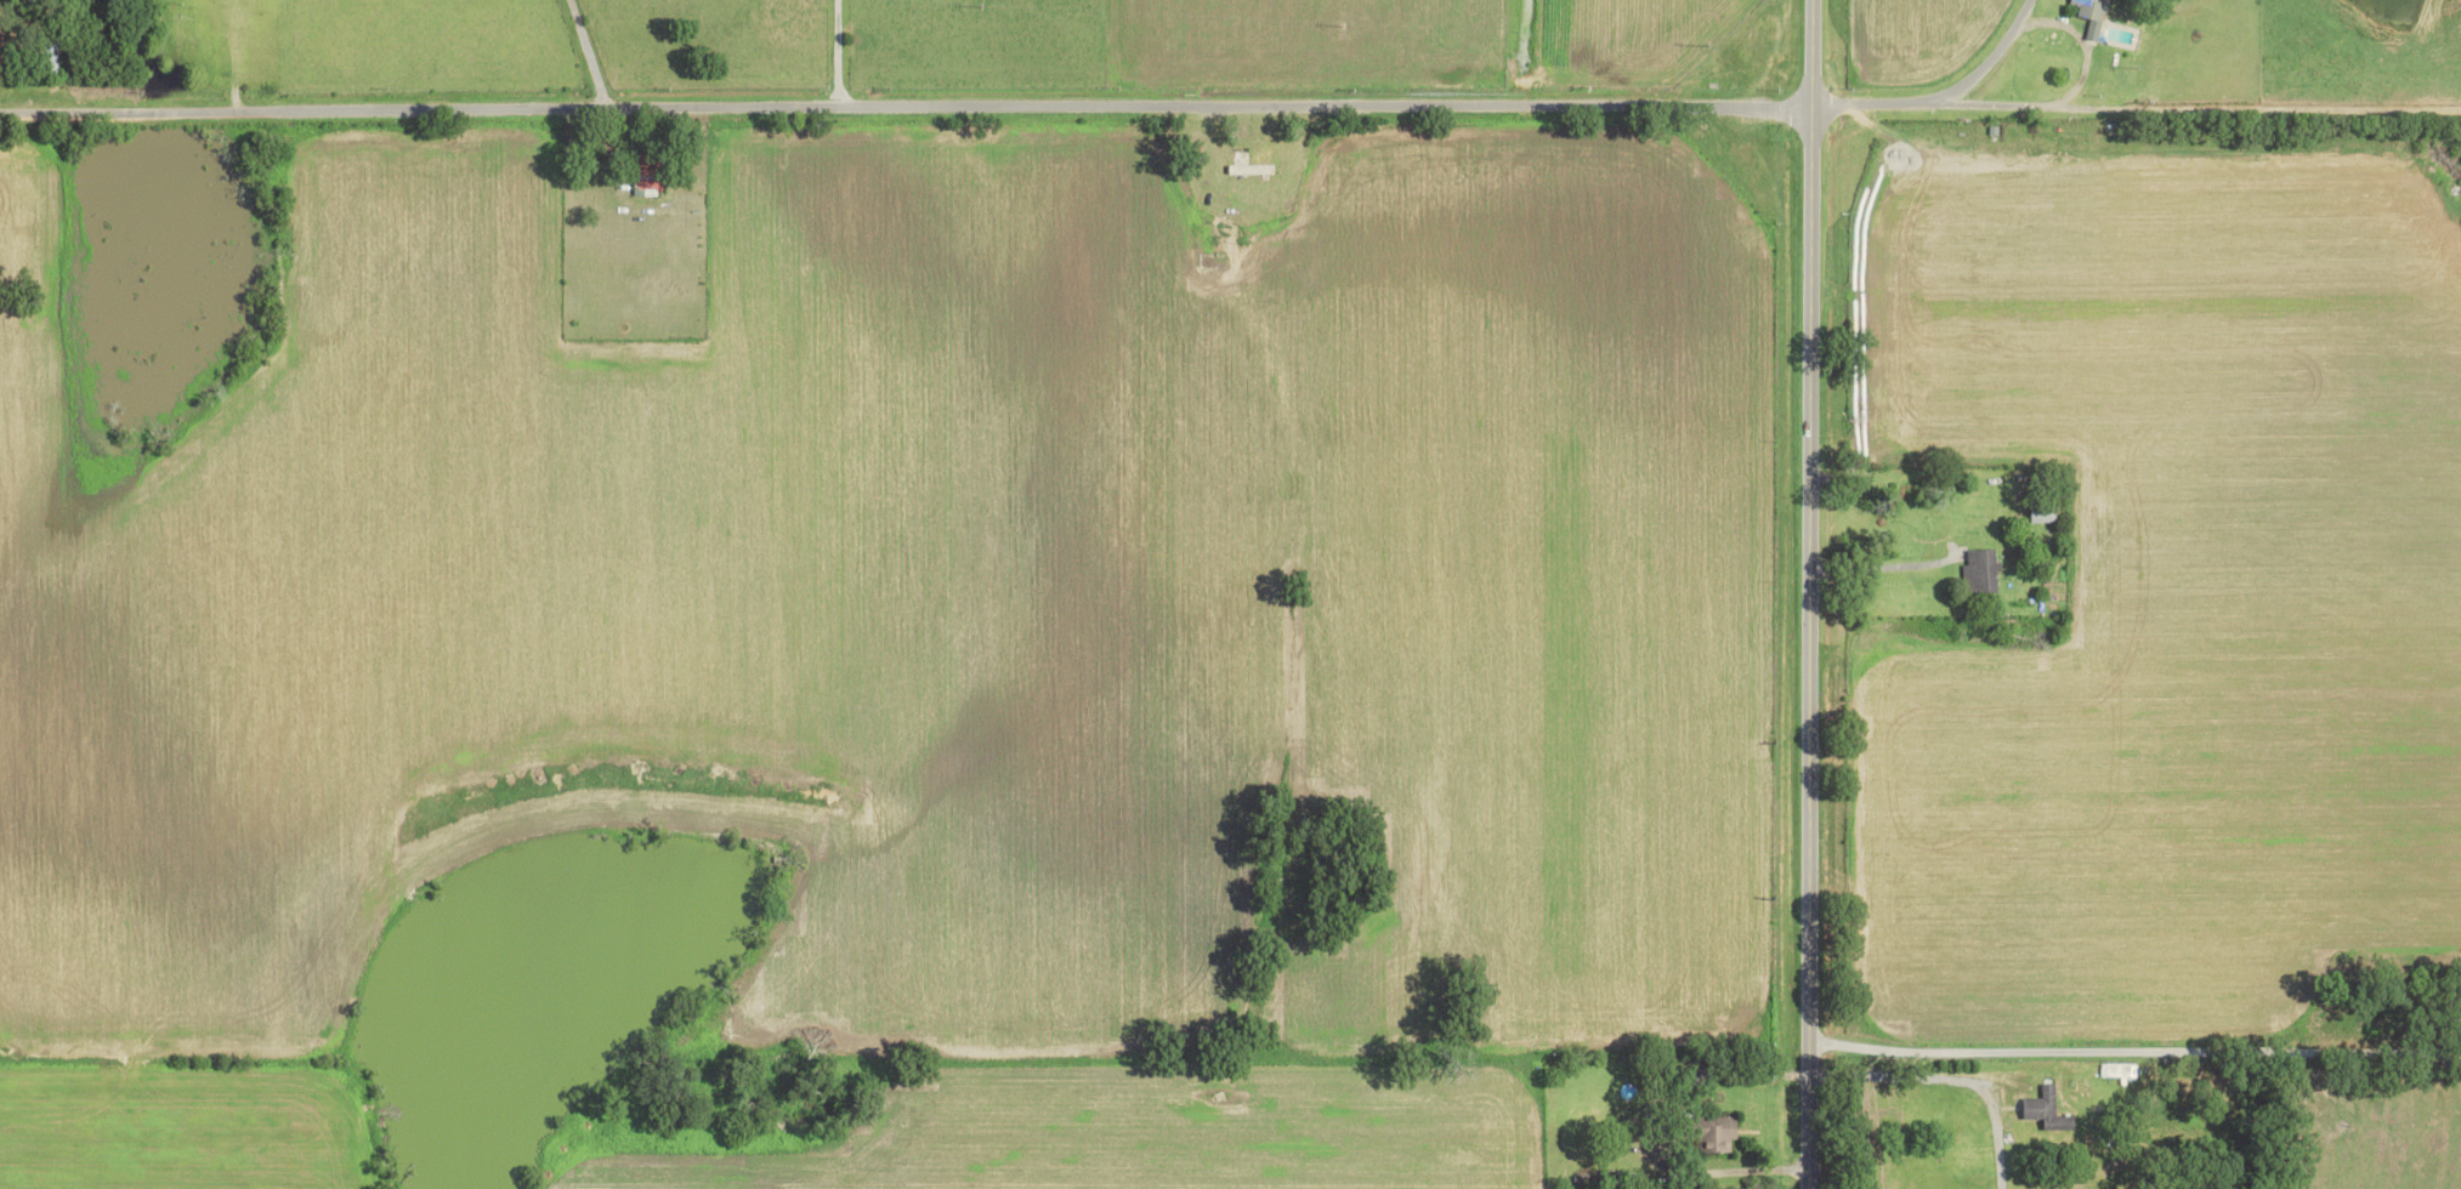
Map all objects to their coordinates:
building: (2093, 15)
road: (589, 55)
road: (833, 55)
road: (1943, 96)
road: (2198, 106)
road: (905, 109)
building: (650, 175)
building: (2046, 513)
road: (1886, 565)
building: (1984, 568)
road: (1808, 593)
road: (2133, 1053)
building: (2120, 1070)
road: (1947, 1077)
building: (2047, 1108)
building: (1722, 1133)
road: (1731, 1168)

